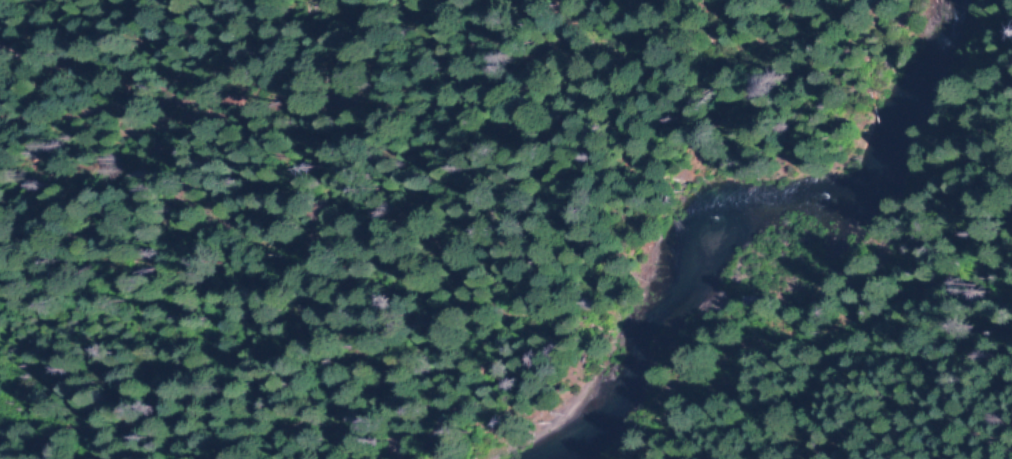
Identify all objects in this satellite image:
river: (753, 200)
road: (898, 308)

